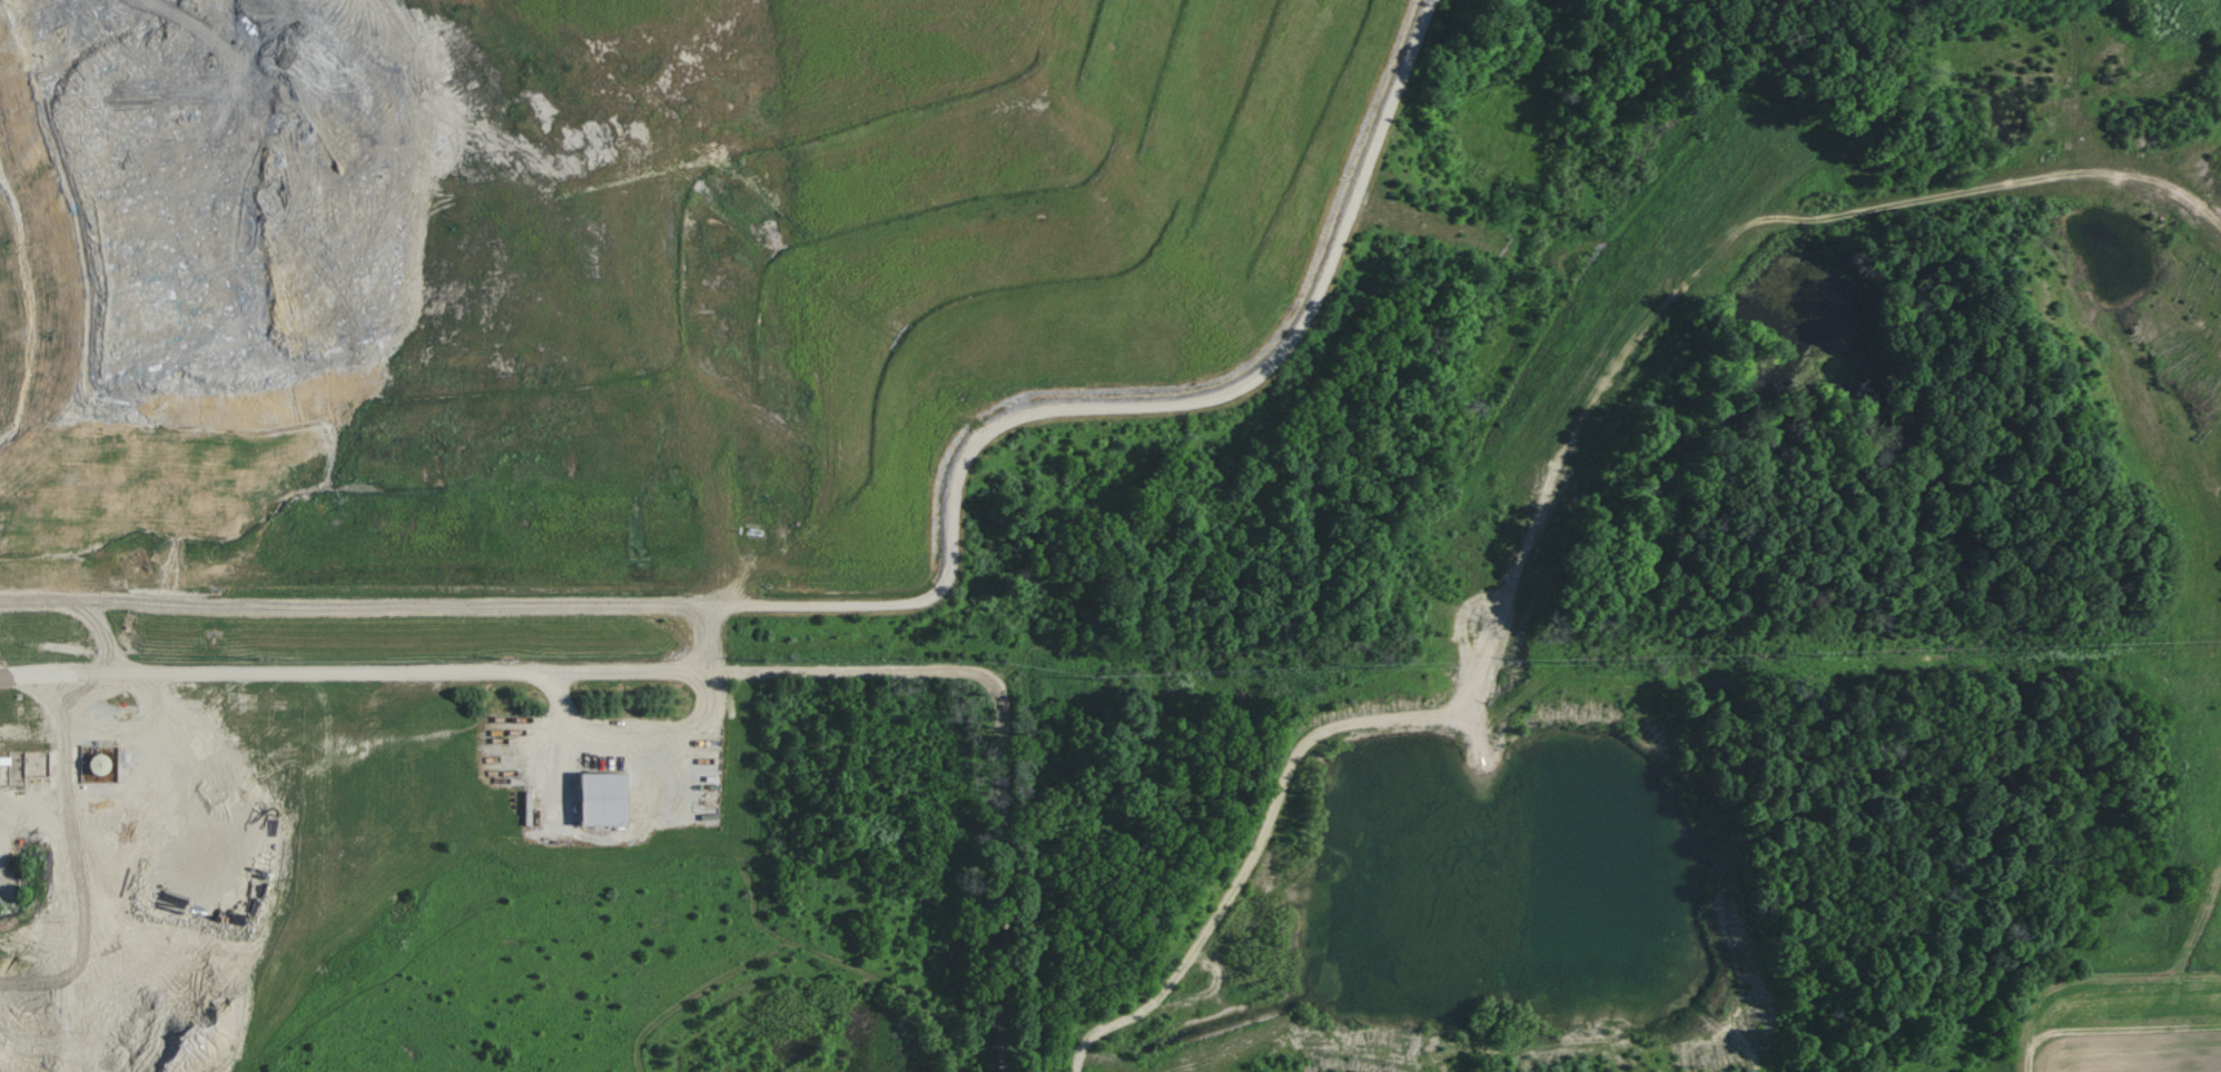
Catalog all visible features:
road: (379, 606)
road: (100, 634)
road: (480, 672)
road: (632, 741)
road: (67, 773)
building: (608, 798)
road: (1001, 858)

